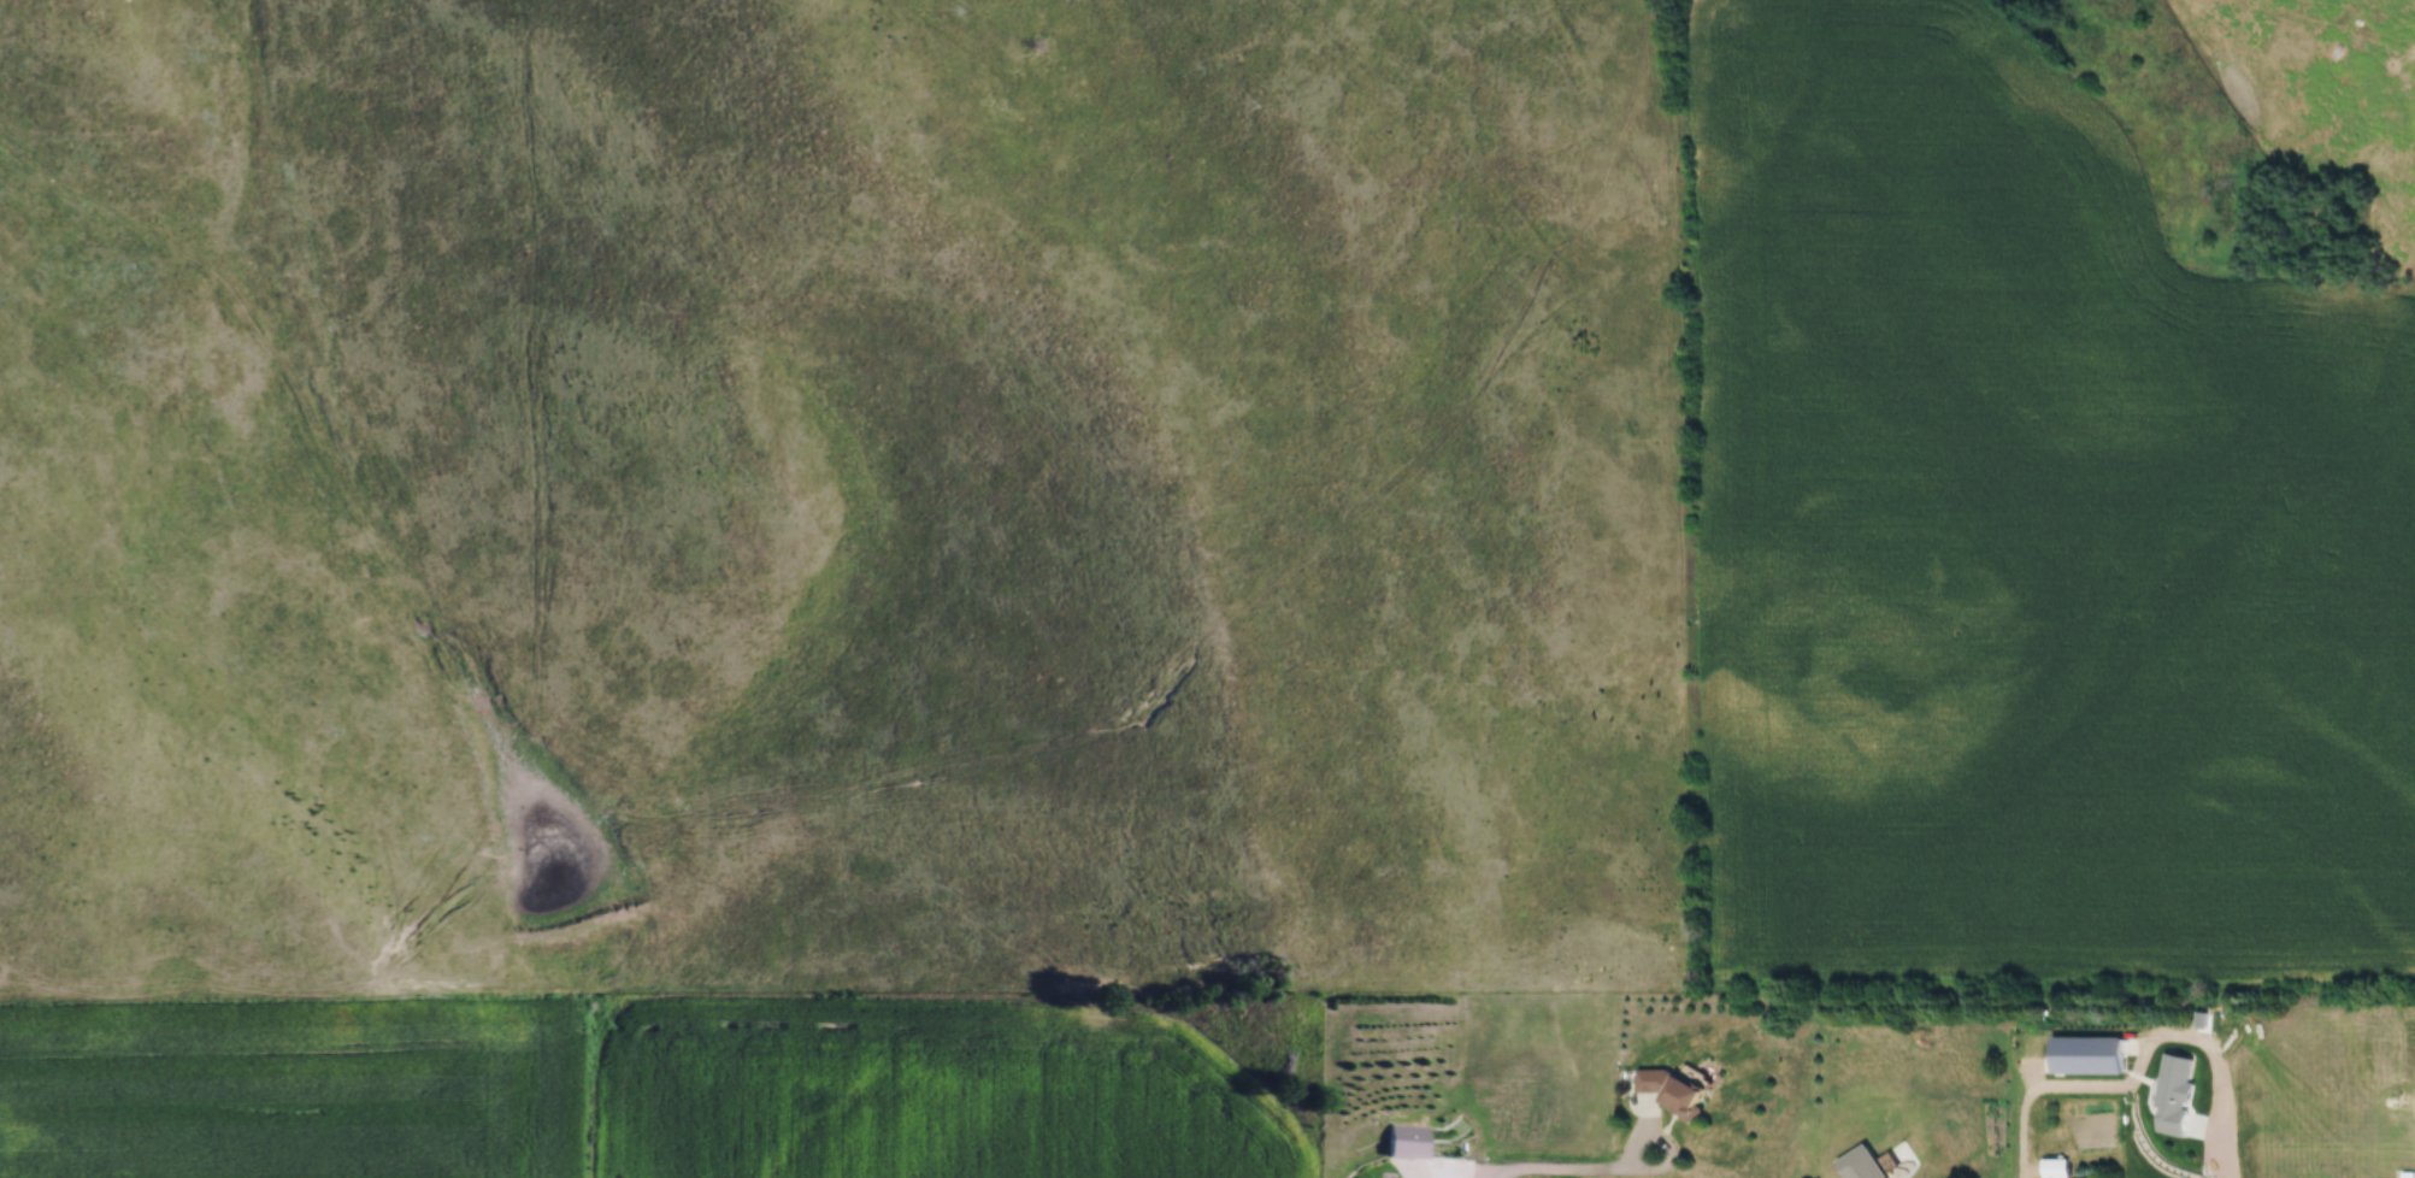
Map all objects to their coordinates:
building: (1674, 1091)
building: (2054, 1167)
road: (1592, 1172)
building: (2404, 1173)
road: (1514, 1177)

